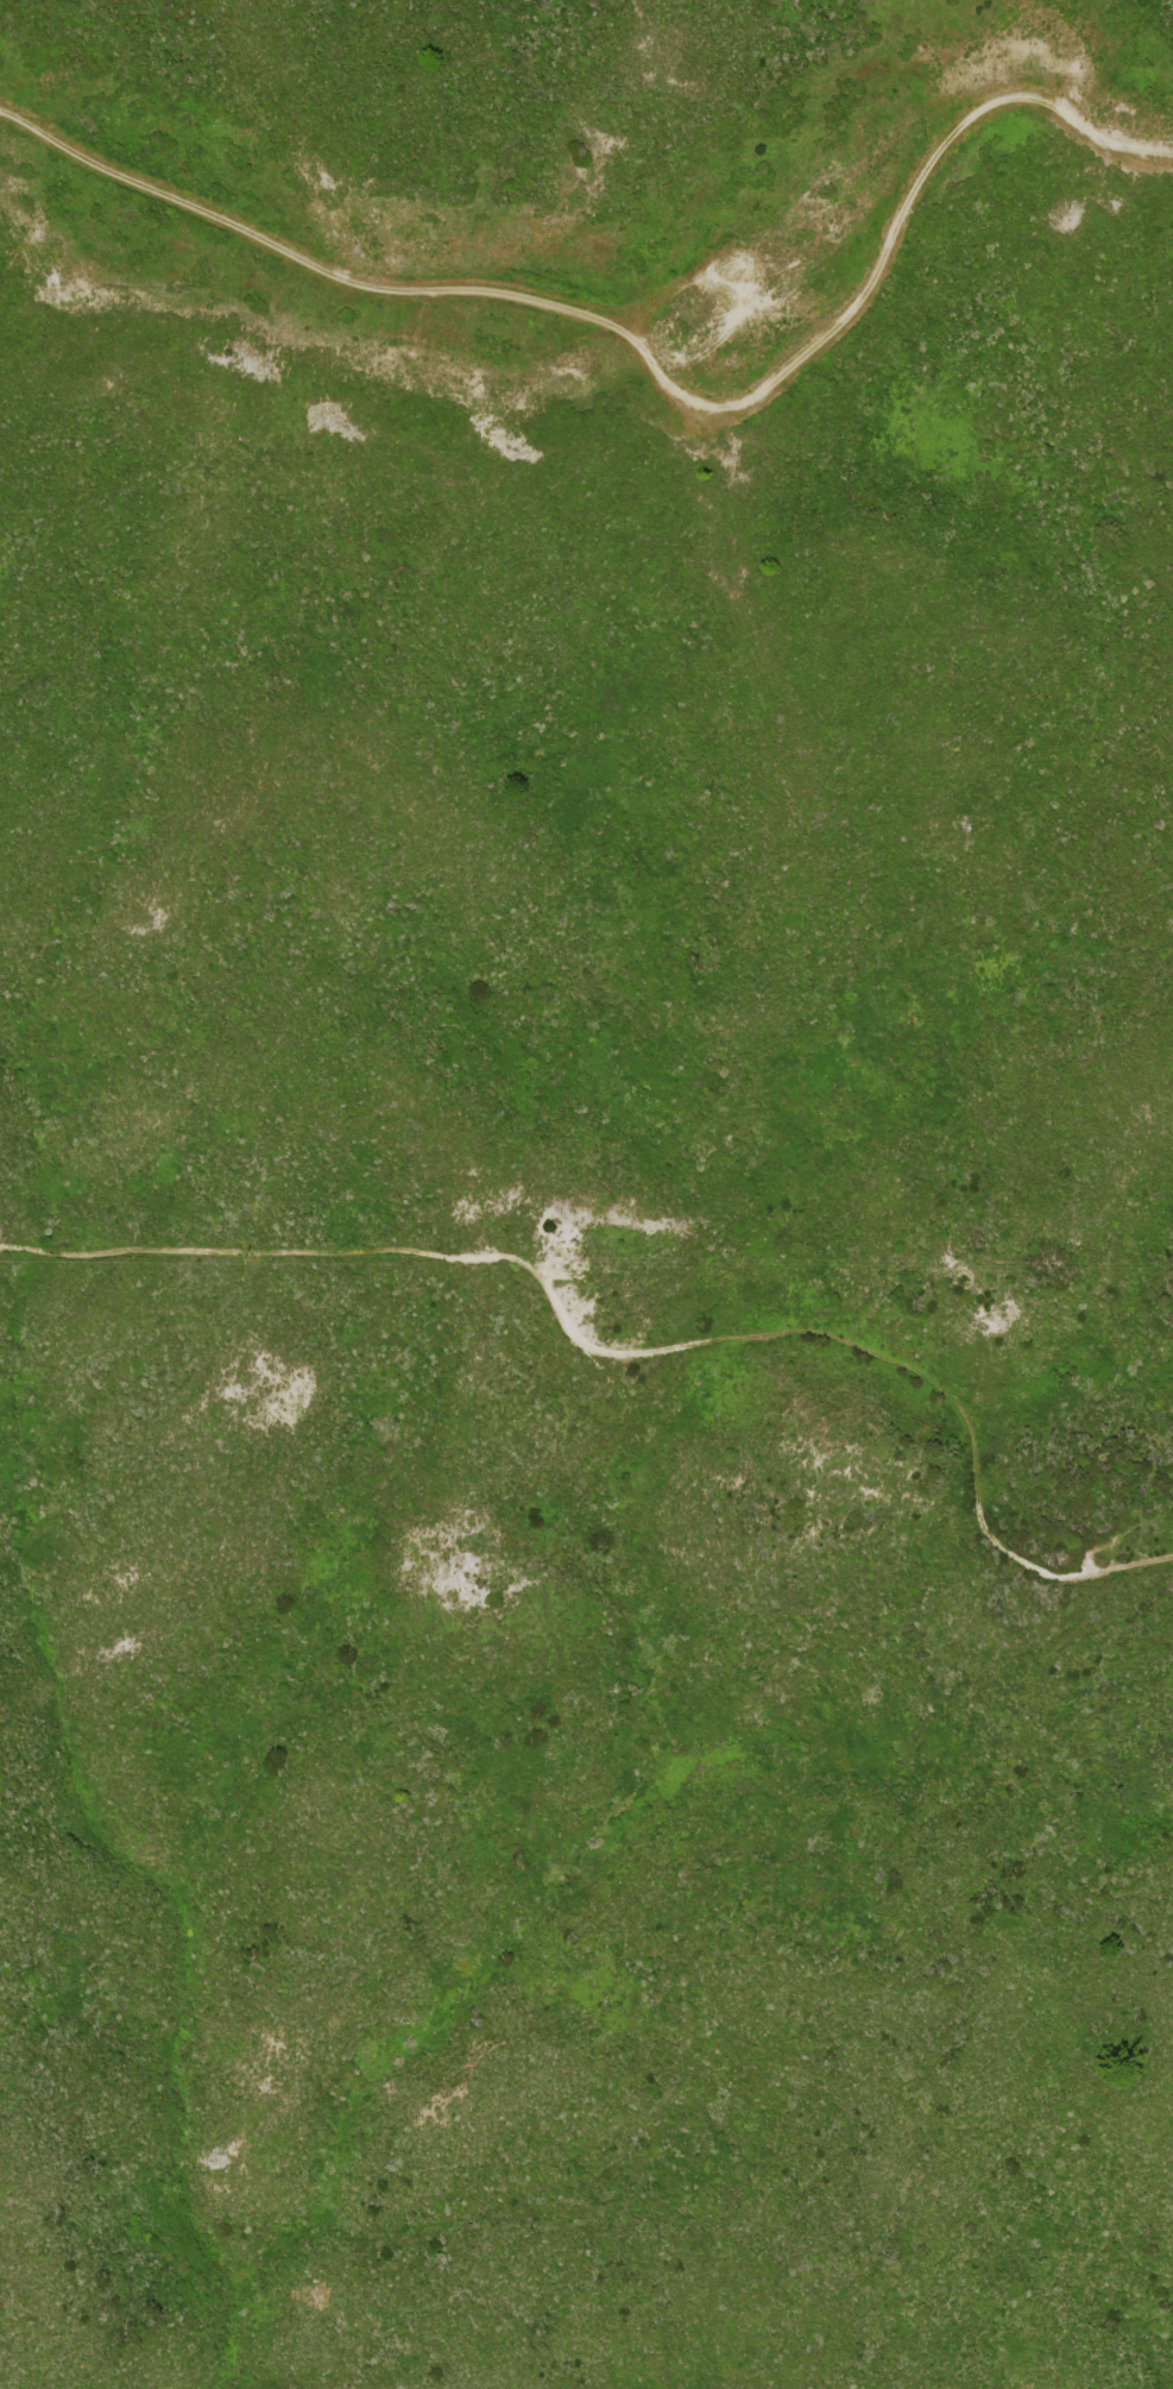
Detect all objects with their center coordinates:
road: (648, 353)
road: (633, 1350)
park: (586, 1819)

